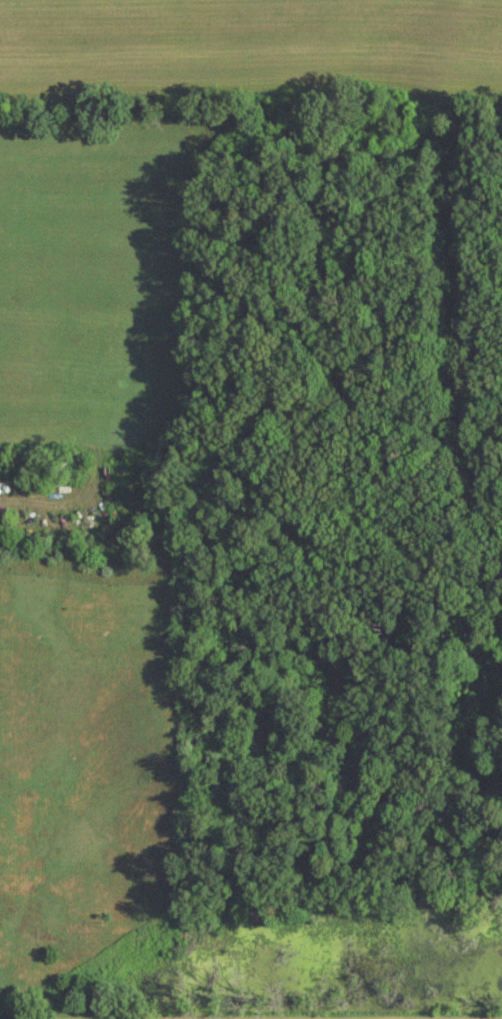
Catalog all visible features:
road: (429, 1018)

